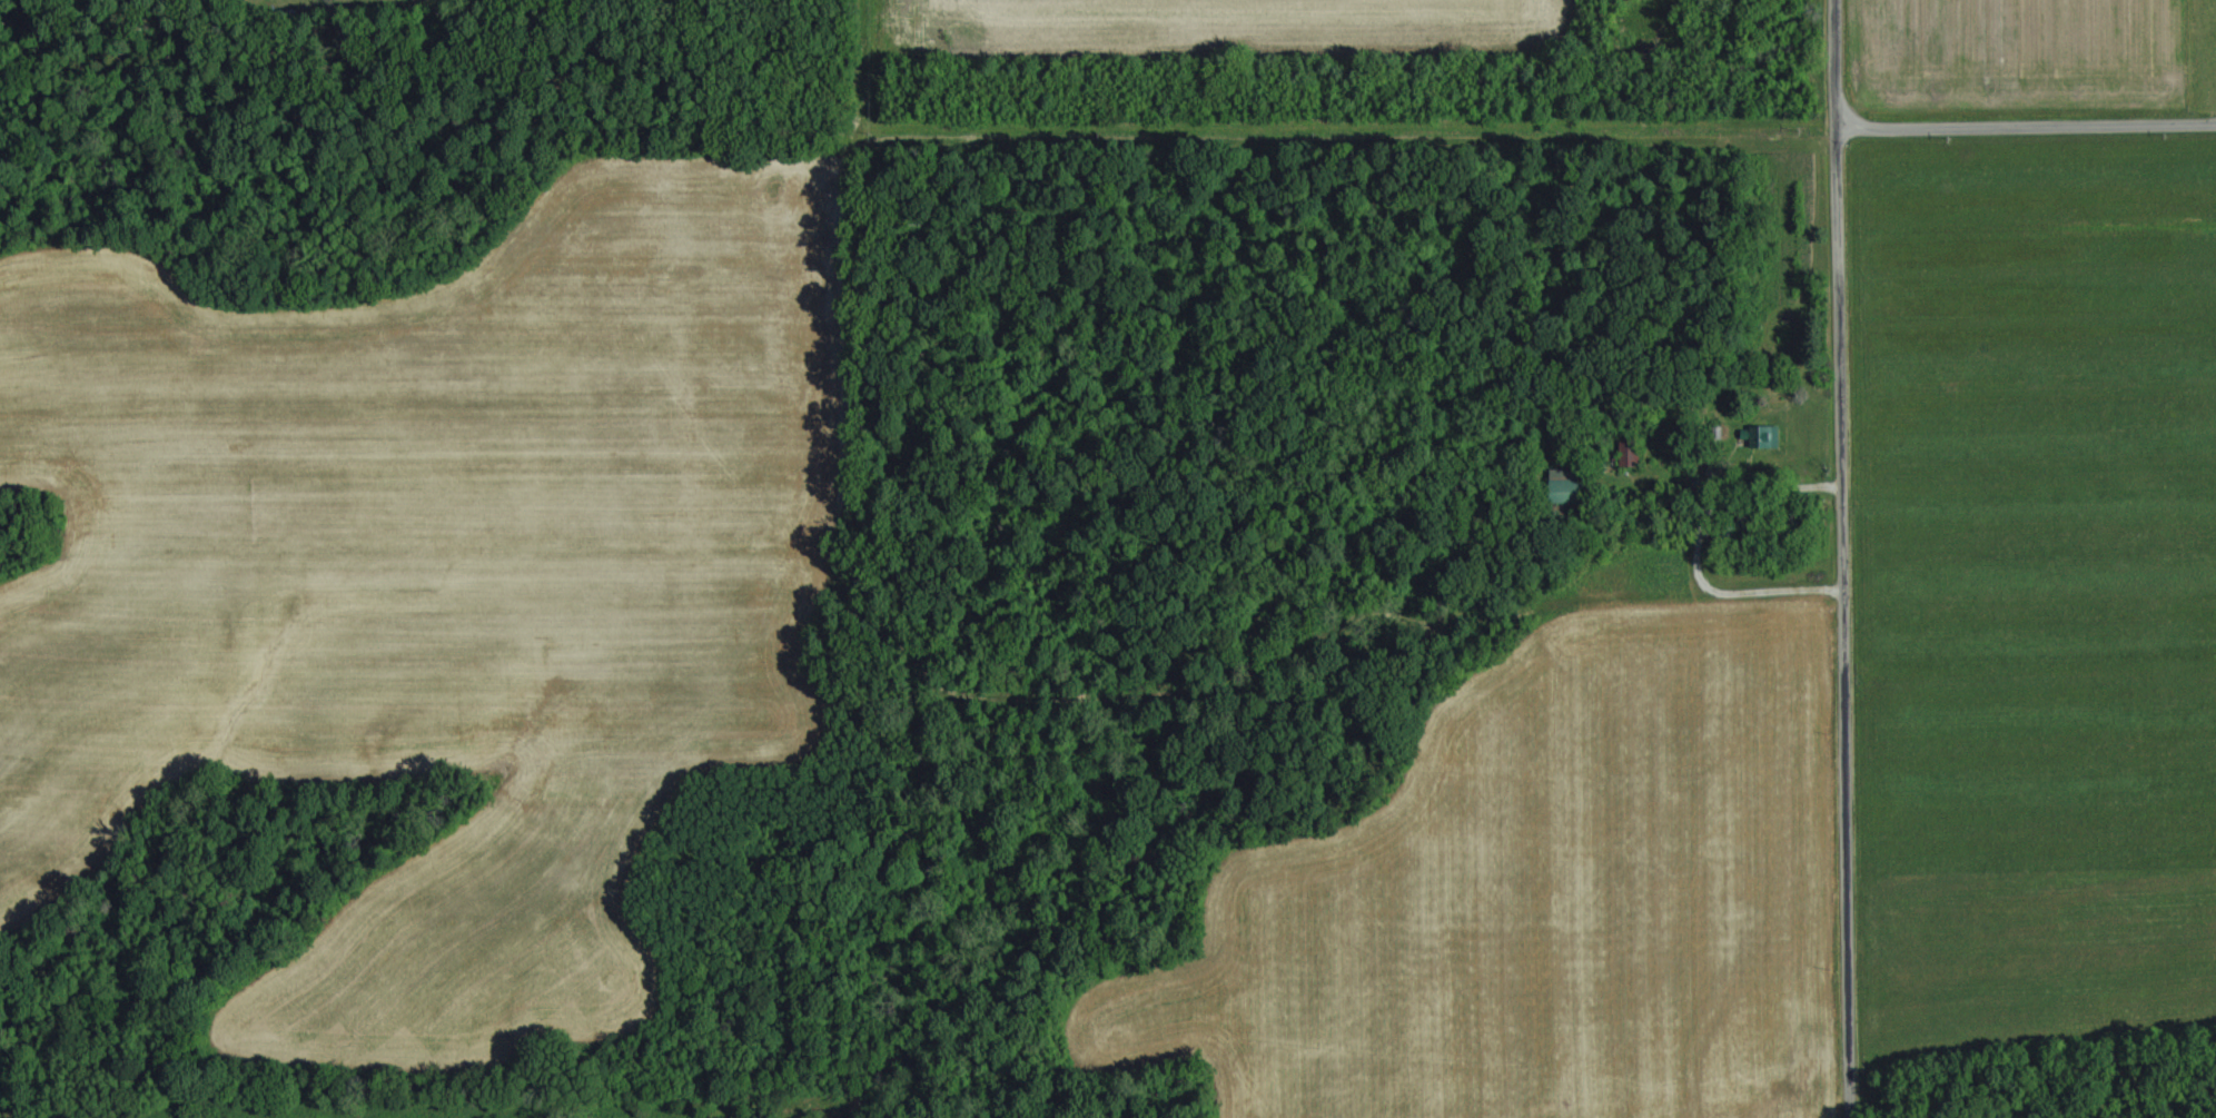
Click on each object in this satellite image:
road: (2028, 131)
building: (1759, 438)
building: (1629, 456)
building: (1564, 486)
road: (1700, 550)
road: (1847, 558)

